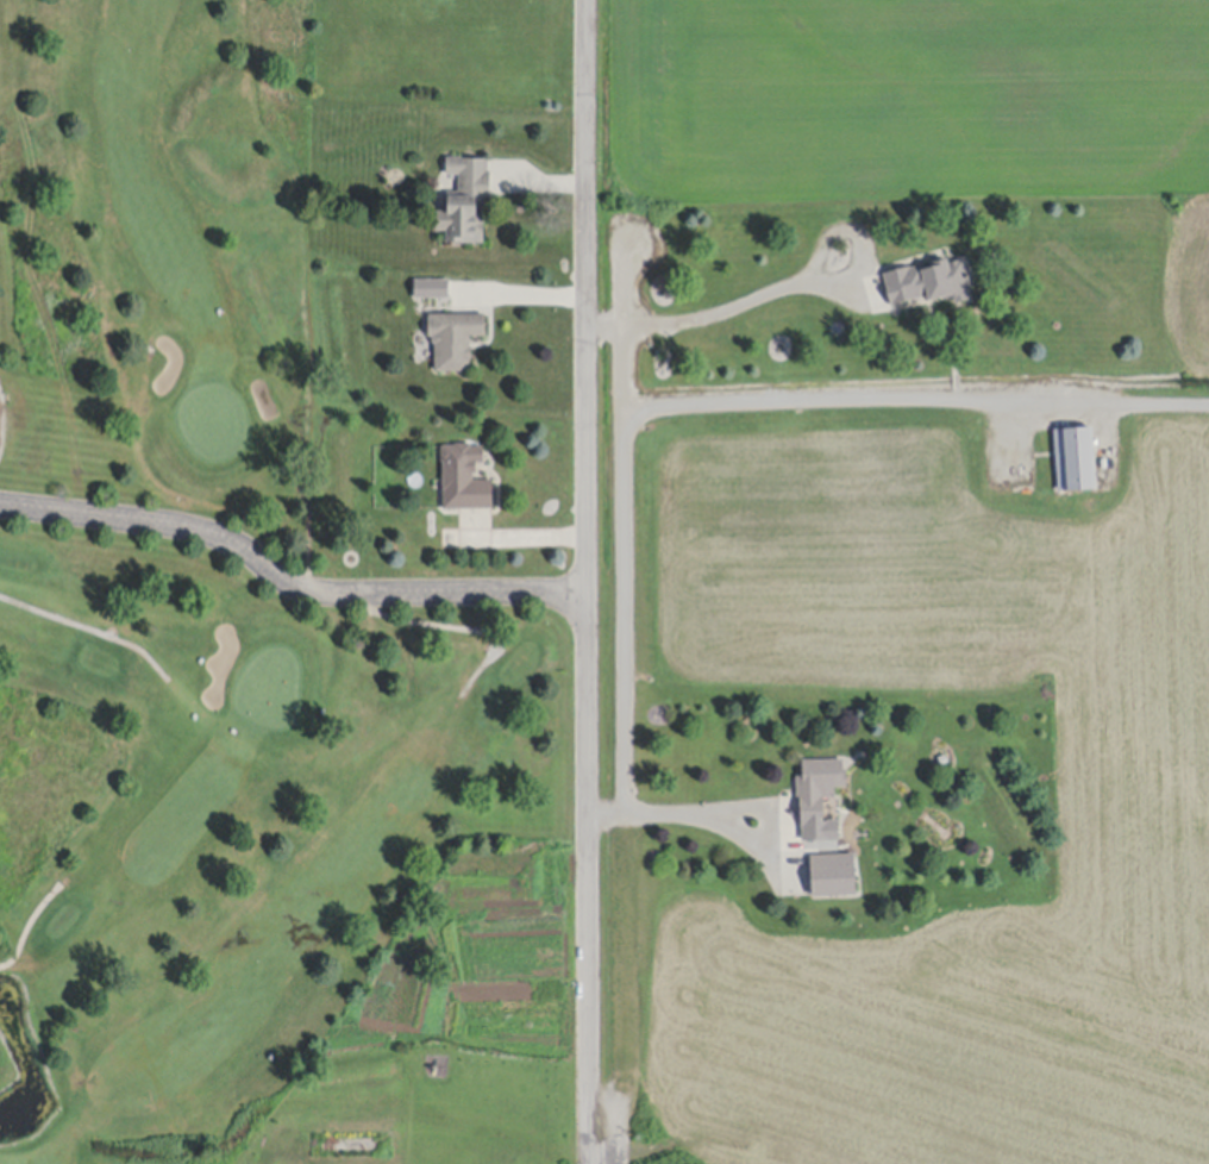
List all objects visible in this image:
building: (465, 205)
building: (927, 286)
road: (737, 302)
building: (453, 344)
road: (915, 399)
building: (1075, 464)
building: (464, 482)
building: (391, 509)
road: (525, 533)
park: (195, 578)
road: (590, 582)
road: (287, 583)
road: (626, 686)
building: (818, 794)
road: (700, 809)
building: (832, 881)

